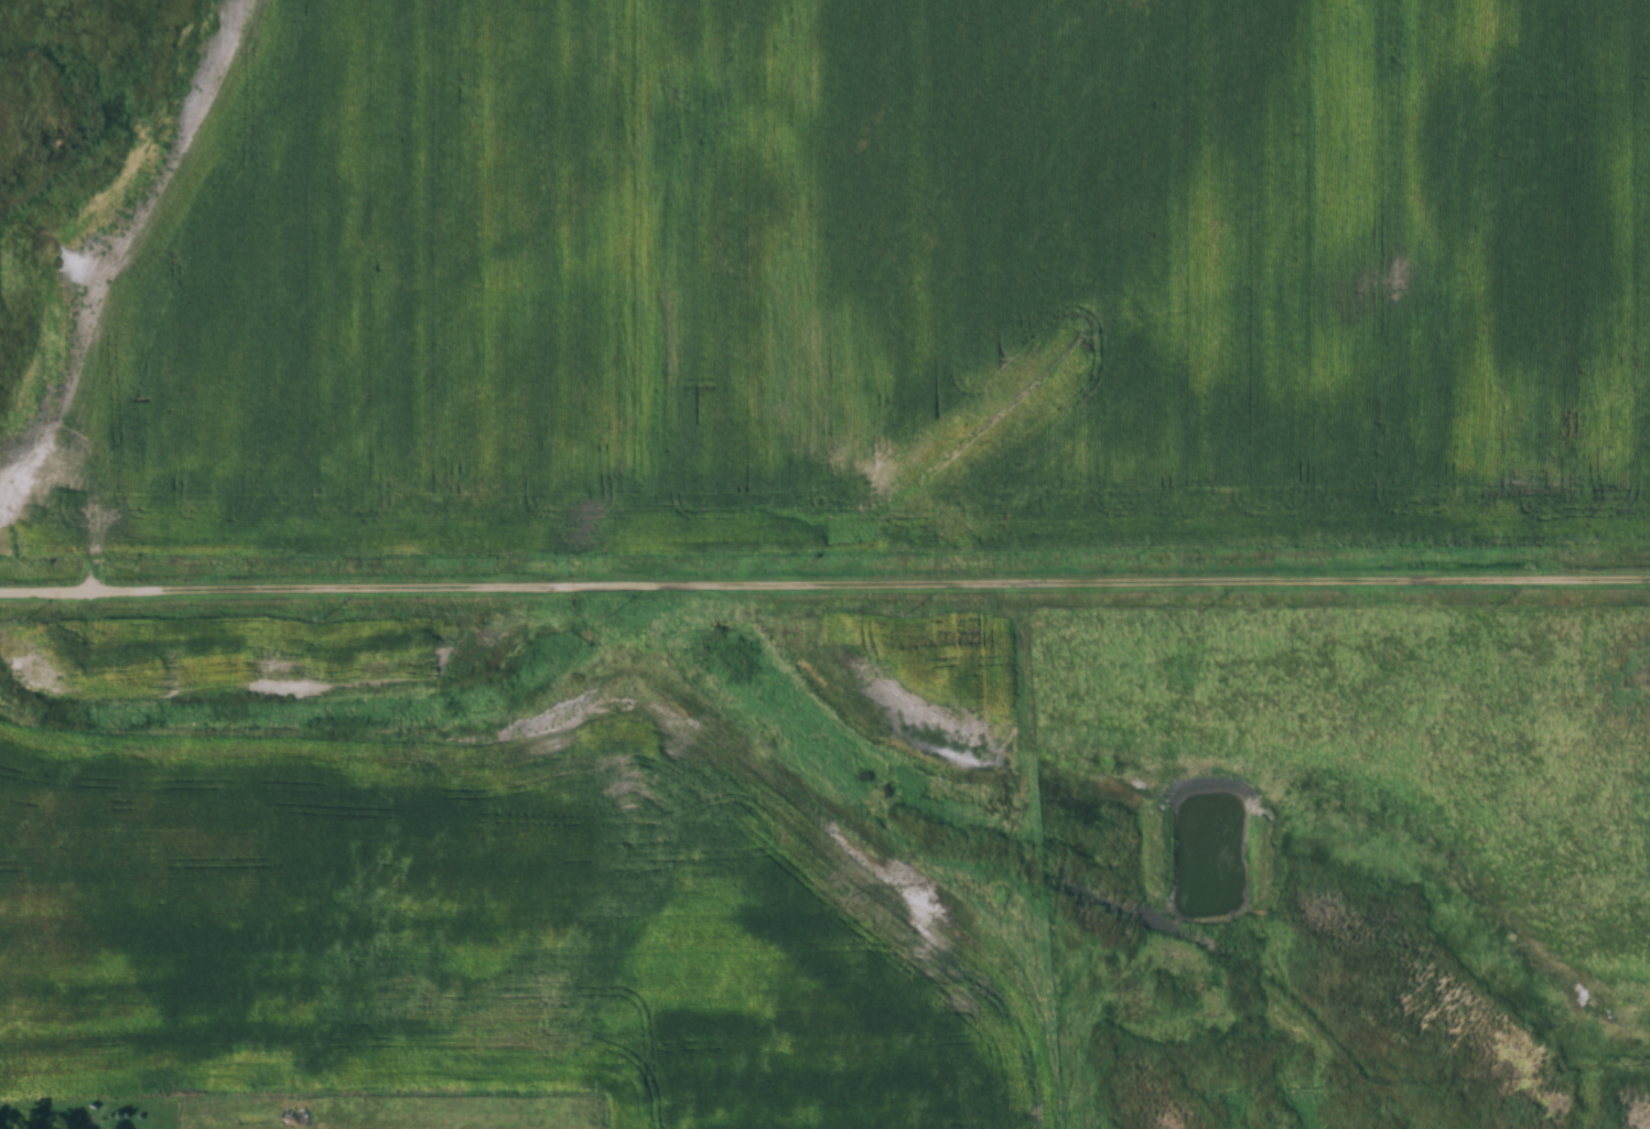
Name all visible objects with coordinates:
road: (824, 588)

